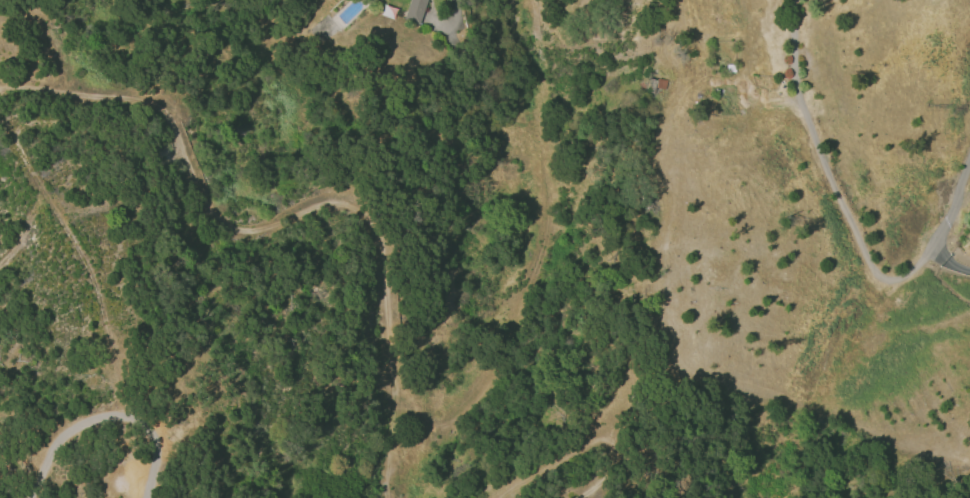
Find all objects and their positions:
building: (415, 10)
road: (456, 15)
road: (52, 47)
road: (38, 88)
building: (727, 101)
road: (848, 219)
road: (948, 261)
road: (387, 330)

